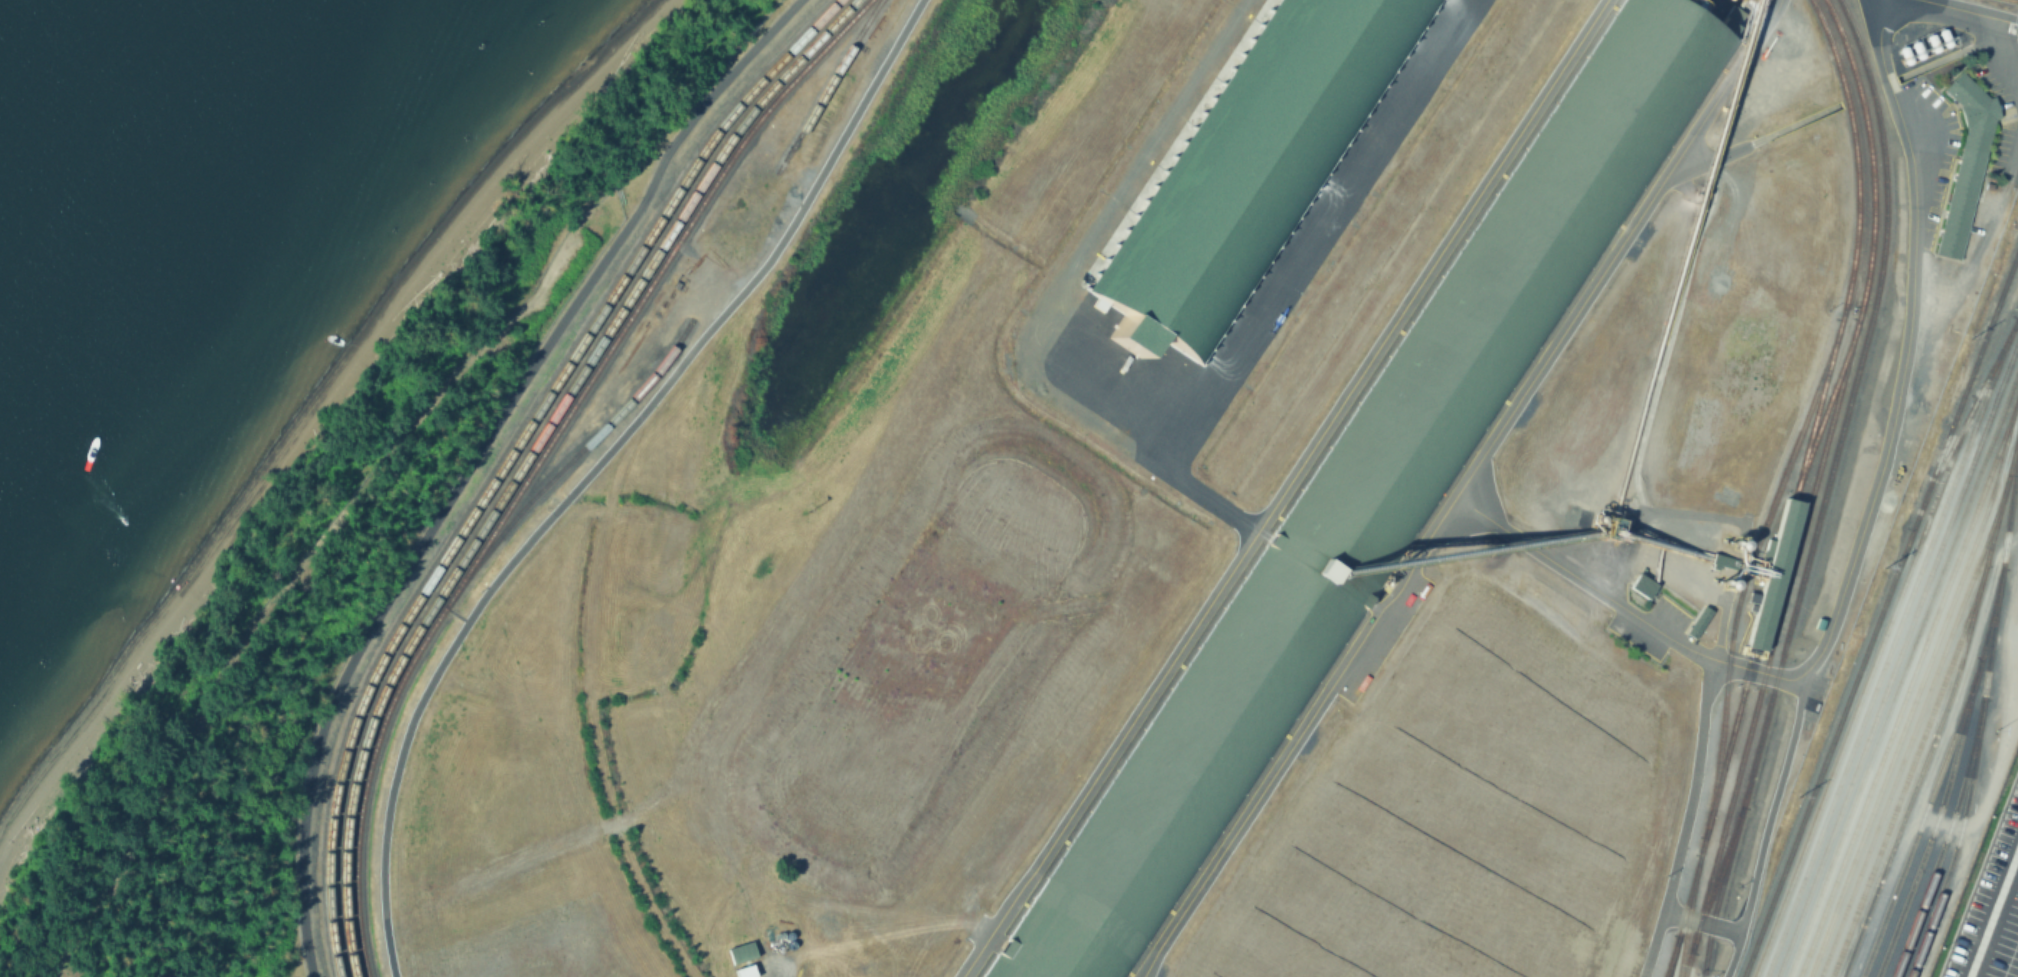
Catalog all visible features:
road: (1970, 11)
building: (2013, 29)
road: (2007, 50)
railway: (830, 86)
road: (2014, 157)
building: (1963, 163)
building: (1251, 164)
road: (1618, 250)
railway: (1970, 375)
railway: (1828, 403)
railway: (580, 453)
railway: (512, 457)
railway: (530, 457)
road: (477, 458)
railway: (546, 458)
road: (595, 467)
road: (1282, 487)
railway: (1796, 489)
railway: (1813, 489)
railway: (1824, 489)
building: (1367, 492)
building: (1613, 528)
road: (1862, 535)
building: (1724, 561)
railway: (1748, 571)
building: (1773, 577)
building: (1643, 584)
building: (1696, 620)
railway: (1870, 640)
railway: (1890, 646)
railway: (1897, 656)
railway: (1903, 669)
railway: (1908, 685)
railway: (1918, 688)
railway: (1859, 697)
railway: (1922, 705)
railway: (1957, 723)
railway: (1924, 725)
road: (1300, 737)
railway: (1919, 771)
railway: (1972, 775)
railway: (1936, 817)
road: (1684, 820)
road: (1766, 828)
railway: (1945, 838)
railway: (1716, 880)
railway: (1689, 916)
road: (1700, 919)
building: (740, 954)
railway: (1670, 960)
building: (741, 972)

